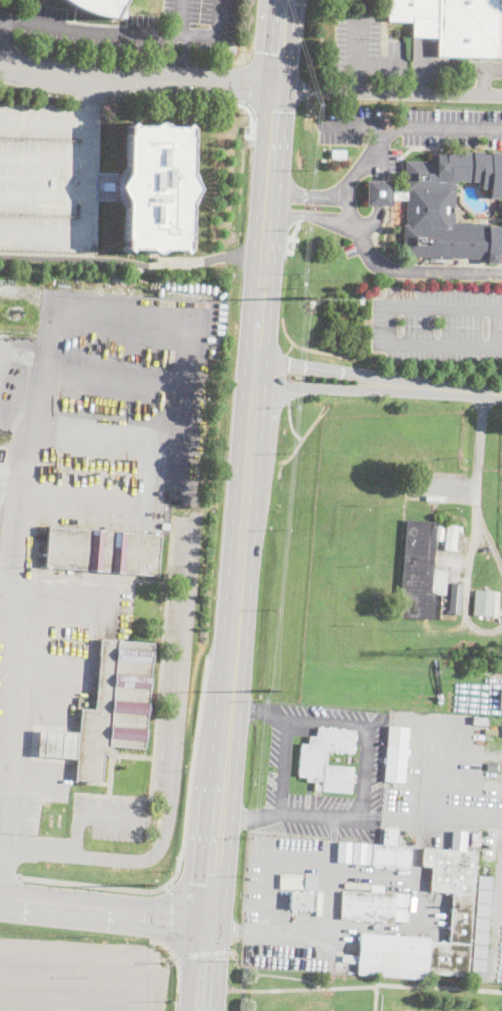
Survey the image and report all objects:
building: (99, 7)
parking lot: (10, 13)
road: (11, 13)
road: (184, 18)
building: (453, 24)
parking lot: (137, 27)
road: (95, 33)
road: (4, 35)
road: (219, 35)
road: (277, 44)
road: (8, 46)
road: (360, 57)
road: (91, 59)
road: (182, 60)
road: (181, 62)
road: (221, 63)
road: (273, 65)
road: (361, 78)
road: (135, 80)
road: (243, 84)
traffic signals: (273, 90)
road: (300, 90)
road: (38, 93)
road: (387, 93)
road: (92, 97)
road: (90, 99)
road: (191, 101)
road: (272, 110)
road: (414, 123)
building: (338, 152)
road: (45, 156)
road: (89, 174)
building: (49, 177)
parking garage: (49, 177)
building: (447, 183)
building: (109, 186)
building: (157, 187)
building: (383, 193)
road: (306, 194)
road: (380, 195)
road: (44, 198)
building: (499, 207)
road: (308, 215)
road: (298, 218)
road: (292, 235)
building: (452, 241)
road: (367, 249)
road: (131, 264)
power tower: (302, 298)
building: (362, 299)
road: (388, 325)
parking lot: (438, 325)
road: (118, 369)
road: (325, 371)
road: (323, 389)
road: (450, 391)
road: (111, 425)
road: (481, 430)
road: (31, 440)
road: (458, 490)
road: (239, 505)
road: (477, 526)
building: (459, 529)
building: (451, 536)
building: (465, 539)
building: (103, 550)
building: (420, 570)
building: (455, 598)
building: (483, 603)
road: (185, 652)
building: (495, 675)
power tower: (270, 689)
building: (500, 701)
building: (106, 710)
road: (256, 712)
building: (479, 721)
building: (396, 755)
building: (312, 759)
road: (192, 760)
building: (493, 765)
road: (281, 815)
road: (108, 816)
road: (248, 823)
road: (74, 833)
building: (475, 839)
building: (490, 851)
building: (344, 852)
building: (383, 852)
road: (91, 855)
road: (8, 874)
building: (298, 881)
building: (484, 881)
road: (94, 884)
power tower: (143, 884)
road: (204, 886)
building: (377, 887)
road: (330, 894)
building: (483, 895)
building: (302, 900)
building: (368, 906)
building: (482, 909)
road: (104, 910)
building: (461, 912)
road: (170, 916)
traffic signals: (208, 922)
building: (481, 923)
building: (480, 936)
road: (171, 949)
road: (201, 952)
road: (101, 958)
road: (205, 966)
parking lot: (79, 975)
road: (75, 981)
road: (438, 987)
road: (314, 988)

